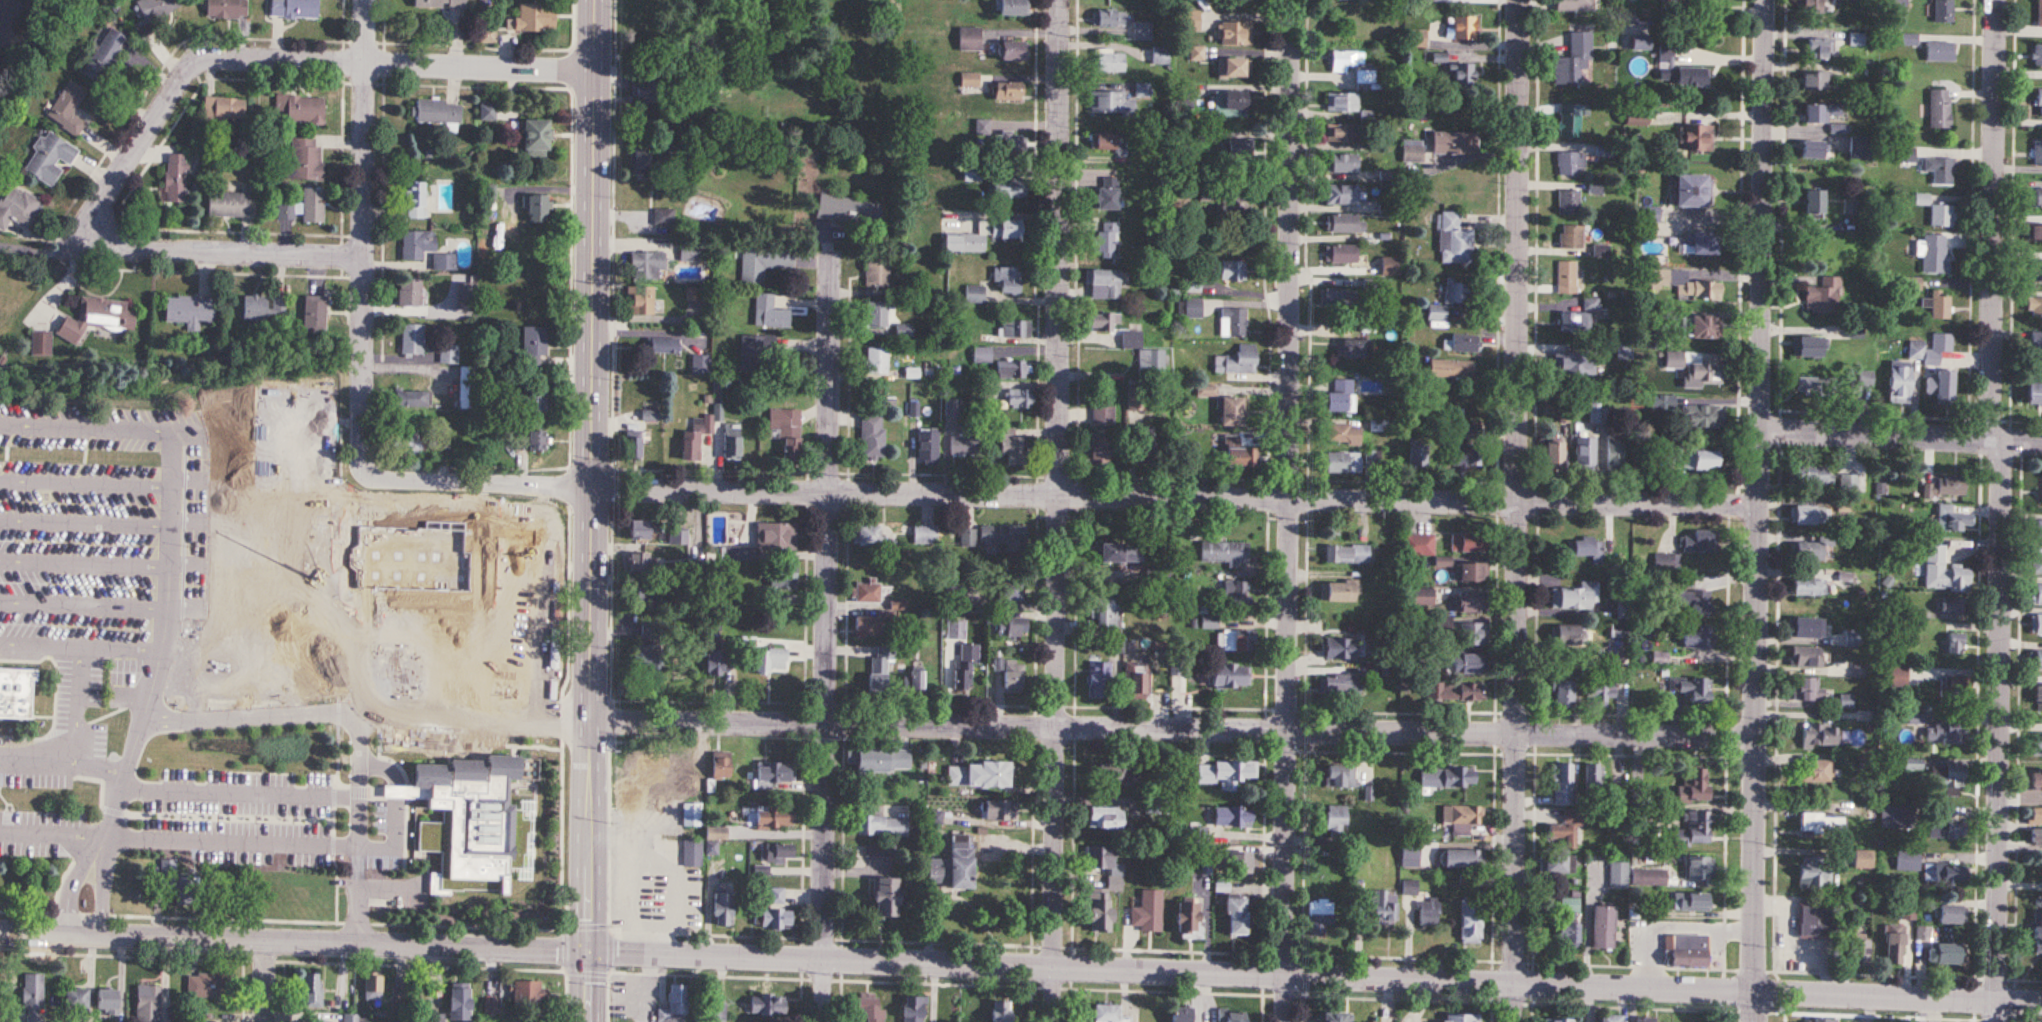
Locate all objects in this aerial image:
building: (1438, 0)
building: (1900, 2)
building: (429, 3)
building: (1575, 5)
building: (1012, 7)
building: (1811, 7)
building: (155, 8)
building: (225, 8)
building: (294, 8)
building: (1944, 11)
building: (2039, 13)
building: (534, 17)
building: (1108, 19)
building: (1189, 20)
building: (1464, 28)
building: (1142, 32)
building: (1236, 33)
building: (969, 39)
building: (1417, 39)
building: (1857, 40)
building: (1819, 50)
building: (1010, 51)
building: (1940, 51)
building: (1197, 53)
building: (2038, 55)
building: (102, 56)
building: (1160, 56)
building: (1346, 60)
building: (1573, 60)
building: (1109, 61)
building: (1233, 68)
building: (1679, 73)
building: (1462, 74)
building: (970, 80)
building: (1816, 81)
road: (177, 86)
building: (1143, 91)
building: (1007, 92)
building: (1342, 102)
building: (2039, 103)
building: (1110, 104)
building: (1232, 104)
building: (66, 109)
building: (299, 109)
building: (1940, 109)
building: (222, 110)
building: (488, 111)
building: (438, 112)
building: (1820, 114)
building: (1569, 121)
building: (983, 126)
building: (1840, 129)
building: (1340, 133)
building: (533, 139)
building: (1696, 139)
building: (1013, 142)
building: (1109, 142)
building: (1454, 144)
building: (1861, 148)
building: (1239, 150)
building: (1412, 151)
building: (1814, 151)
building: (2038, 152)
building: (1907, 155)
building: (48, 159)
building: (305, 159)
building: (642, 160)
building: (1343, 163)
building: (1570, 164)
building: (1010, 166)
building: (1940, 170)
building: (972, 174)
building: (175, 178)
building: (1009, 189)
building: (1692, 191)
building: (1106, 194)
building: (1347, 194)
building: (1208, 196)
building: (2038, 197)
building: (1924, 200)
building: (415, 201)
building: (1234, 201)
building: (1568, 202)
building: (229, 204)
building: (312, 205)
building: (1814, 206)
building: (17, 207)
building: (1852, 207)
building: (536, 210)
building: (848, 211)
building: (285, 212)
building: (1648, 214)
building: (1942, 216)
building: (663, 217)
building: (1344, 224)
building: (1004, 230)
building: (2034, 234)
road: (366, 237)
building: (1570, 237)
building: (1454, 240)
building: (1107, 241)
building: (964, 243)
building: (1704, 243)
building: (417, 244)
building: (1933, 253)
building: (1341, 254)
road: (57, 256)
building: (443, 262)
building: (763, 263)
building: (645, 265)
building: (1390, 266)
building: (2037, 271)
building: (876, 272)
building: (1232, 272)
building: (1566, 278)
building: (1008, 280)
building: (1104, 284)
building: (1682, 284)
building: (409, 291)
building: (975, 294)
building: (465, 296)
building: (1338, 297)
building: (1819, 299)
building: (1449, 300)
building: (640, 302)
building: (1941, 305)
building: (2034, 307)
building: (265, 308)
building: (190, 311)
building: (768, 313)
building: (314, 314)
building: (877, 315)
building: (97, 318)
building: (1233, 322)
building: (1574, 322)
building: (1102, 323)
building: (1702, 327)
building: (1015, 329)
building: (412, 339)
building: (2036, 340)
building: (1464, 343)
building: (40, 344)
building: (534, 345)
building: (662, 346)
building: (1810, 347)
building: (1931, 349)
building: (1354, 350)
building: (752, 351)
building: (448, 354)
building: (1144, 354)
building: (981, 355)
building: (1675, 359)
building: (876, 360)
building: (1237, 361)
building: (699, 364)
building: (1574, 364)
building: (1011, 369)
building: (1453, 369)
building: (1701, 372)
building: (1865, 379)
building: (1900, 383)
building: (1815, 386)
building: (1942, 387)
building: (466, 389)
building: (2035, 389)
building: (1206, 391)
building: (410, 397)
building: (1341, 397)
building: (1019, 398)
building: (532, 399)
building: (1136, 399)
building: (953, 407)
building: (1230, 412)
building: (1594, 413)
building: (650, 416)
building: (1103, 416)
building: (1702, 417)
road: (85, 429)
road: (1902, 431)
building: (697, 434)
building: (785, 434)
building: (1341, 435)
building: (443, 436)
building: (872, 436)
building: (531, 441)
building: (730, 441)
building: (404, 443)
building: (632, 445)
building: (962, 445)
building: (1011, 447)
building: (1143, 447)
building: (926, 448)
road: (234, 449)
building: (1098, 450)
building: (1463, 452)
building: (1614, 452)
building: (1554, 454)
building: (1585, 454)
building: (1237, 455)
building: (1418, 457)
building: (1372, 459)
building: (1699, 460)
building: (1341, 463)
building: (1813, 475)
road: (87, 481)
building: (1849, 484)
building: (1946, 487)
road: (1060, 499)
road: (591, 510)
road: (1756, 510)
road: (1995, 510)
road: (1039, 511)
road: (1288, 511)
road: (1516, 511)
building: (1804, 516)
building: (1953, 520)
road: (221, 524)
building: (2038, 530)
building: (638, 532)
building: (1001, 534)
building: (925, 535)
building: (866, 536)
building: (775, 537)
building: (678, 538)
building: (968, 538)
building: (1466, 543)
building: (1698, 543)
building: (1417, 546)
building: (1587, 550)
building: (1809, 552)
building: (1119, 553)
building: (1223, 553)
building: (1346, 555)
road: (178, 563)
building: (1667, 563)
building: (637, 564)
building: (2036, 565)
building: (1943, 572)
building: (1473, 573)
building: (485, 575)
building: (1153, 576)
building: (783, 579)
building: (1809, 587)
building: (1009, 591)
building: (865, 592)
building: (1341, 592)
building: (644, 595)
building: (2036, 595)
building: (1235, 596)
building: (1422, 597)
building: (1576, 597)
building: (1471, 603)
building: (1695, 603)
building: (1952, 606)
road: (179, 609)
building: (1106, 613)
building: (522, 619)
building: (1007, 624)
building: (1444, 624)
building: (2036, 625)
building: (865, 626)
building: (1806, 628)
building: (956, 630)
building: (648, 632)
building: (1473, 634)
road: (165, 635)
road: (828, 635)
building: (1570, 636)
building: (1698, 636)
building: (1853, 638)
building: (1237, 641)
building: (1956, 644)
road: (82, 646)
building: (1339, 649)
building: (645, 656)
building: (1806, 657)
building: (768, 661)
building: (2038, 661)
building: (1468, 664)
building: (964, 667)
building: (879, 670)
building: (1012, 676)
building: (1898, 676)
building: (1229, 677)
building: (914, 680)
building: (1098, 680)
building: (1136, 680)
building: (1954, 686)
building: (1341, 687)
building: (1691, 688)
building: (1562, 690)
building: (1807, 690)
building: (15, 691)
building: (1455, 692)
building: (1599, 692)
building: (2038, 699)
building: (1846, 701)
road: (477, 703)
road: (252, 717)
road: (477, 724)
road: (1173, 725)
road: (78, 726)
road: (361, 729)
building: (1945, 733)
building: (1818, 735)
building: (2036, 745)
road: (40, 753)
building: (879, 759)
building: (720, 764)
road: (384, 767)
building: (650, 768)
building: (773, 770)
building: (1112, 771)
building: (1816, 771)
building: (985, 773)
building: (1227, 773)
building: (1339, 777)
building: (1948, 777)
building: (1447, 778)
building: (2036, 779)
building: (1594, 780)
building: (1562, 785)
building: (1693, 786)
road: (240, 792)
road: (397, 792)
building: (996, 809)
building: (642, 812)
building: (773, 816)
building: (1231, 816)
building: (1104, 817)
building: (1335, 817)
building: (2035, 817)
building: (1461, 819)
building: (472, 822)
building: (1823, 823)
building: (880, 826)
building: (1693, 830)
building: (1945, 830)
building: (1563, 831)
road: (54, 834)
road: (395, 839)
building: (2035, 839)
road: (233, 840)
building: (711, 847)
building: (876, 850)
building: (692, 852)
building: (776, 852)
building: (1409, 855)
building: (1463, 858)
building: (1863, 859)
building: (1907, 861)
building: (1238, 862)
building: (1555, 863)
building: (653, 864)
building: (952, 865)
building: (1697, 867)
building: (1944, 873)
building: (1617, 874)
building: (1814, 876)
building: (1653, 877)
road: (77, 879)
building: (171, 879)
road: (103, 883)
building: (620, 888)
building: (1104, 889)
road: (359, 893)
building: (301, 894)
building: (776, 896)
building: (885, 897)
building: (1691, 901)
building: (691, 905)
building: (643, 906)
building: (1383, 906)
building: (721, 908)
building: (1428, 912)
building: (1236, 914)
building: (1951, 914)
building: (1186, 917)
building: (1319, 917)
building: (775, 918)
building: (1141, 918)
building: (1815, 920)
building: (1470, 921)
building: (1568, 922)
building: (1602, 926)
building: (2037, 927)
road: (1671, 928)
building: (1895, 944)
building: (1686, 950)
building: (1860, 950)
building: (1946, 953)
road: (876, 958)
road: (265, 980)
building: (204, 985)
building: (372, 987)
building: (312, 990)
building: (527, 994)
road: (1897, 995)
building: (32, 997)
building: (74, 999)
building: (106, 1001)
building: (458, 1001)
building: (147, 1003)
building: (766, 1004)
building: (673, 1005)
building: (716, 1007)
building: (867, 1008)
building: (912, 1008)
building: (1000, 1011)
building: (1108, 1013)
building: (1180, 1013)
building: (213, 1014)
building: (1231, 1015)
building: (1334, 1016)
building: (1460, 1017)
building: (350, 1018)
building: (1609, 1018)
building: (1644, 1019)
building: (1559, 1020)
building: (1817, 1020)
building: (323, 1021)

